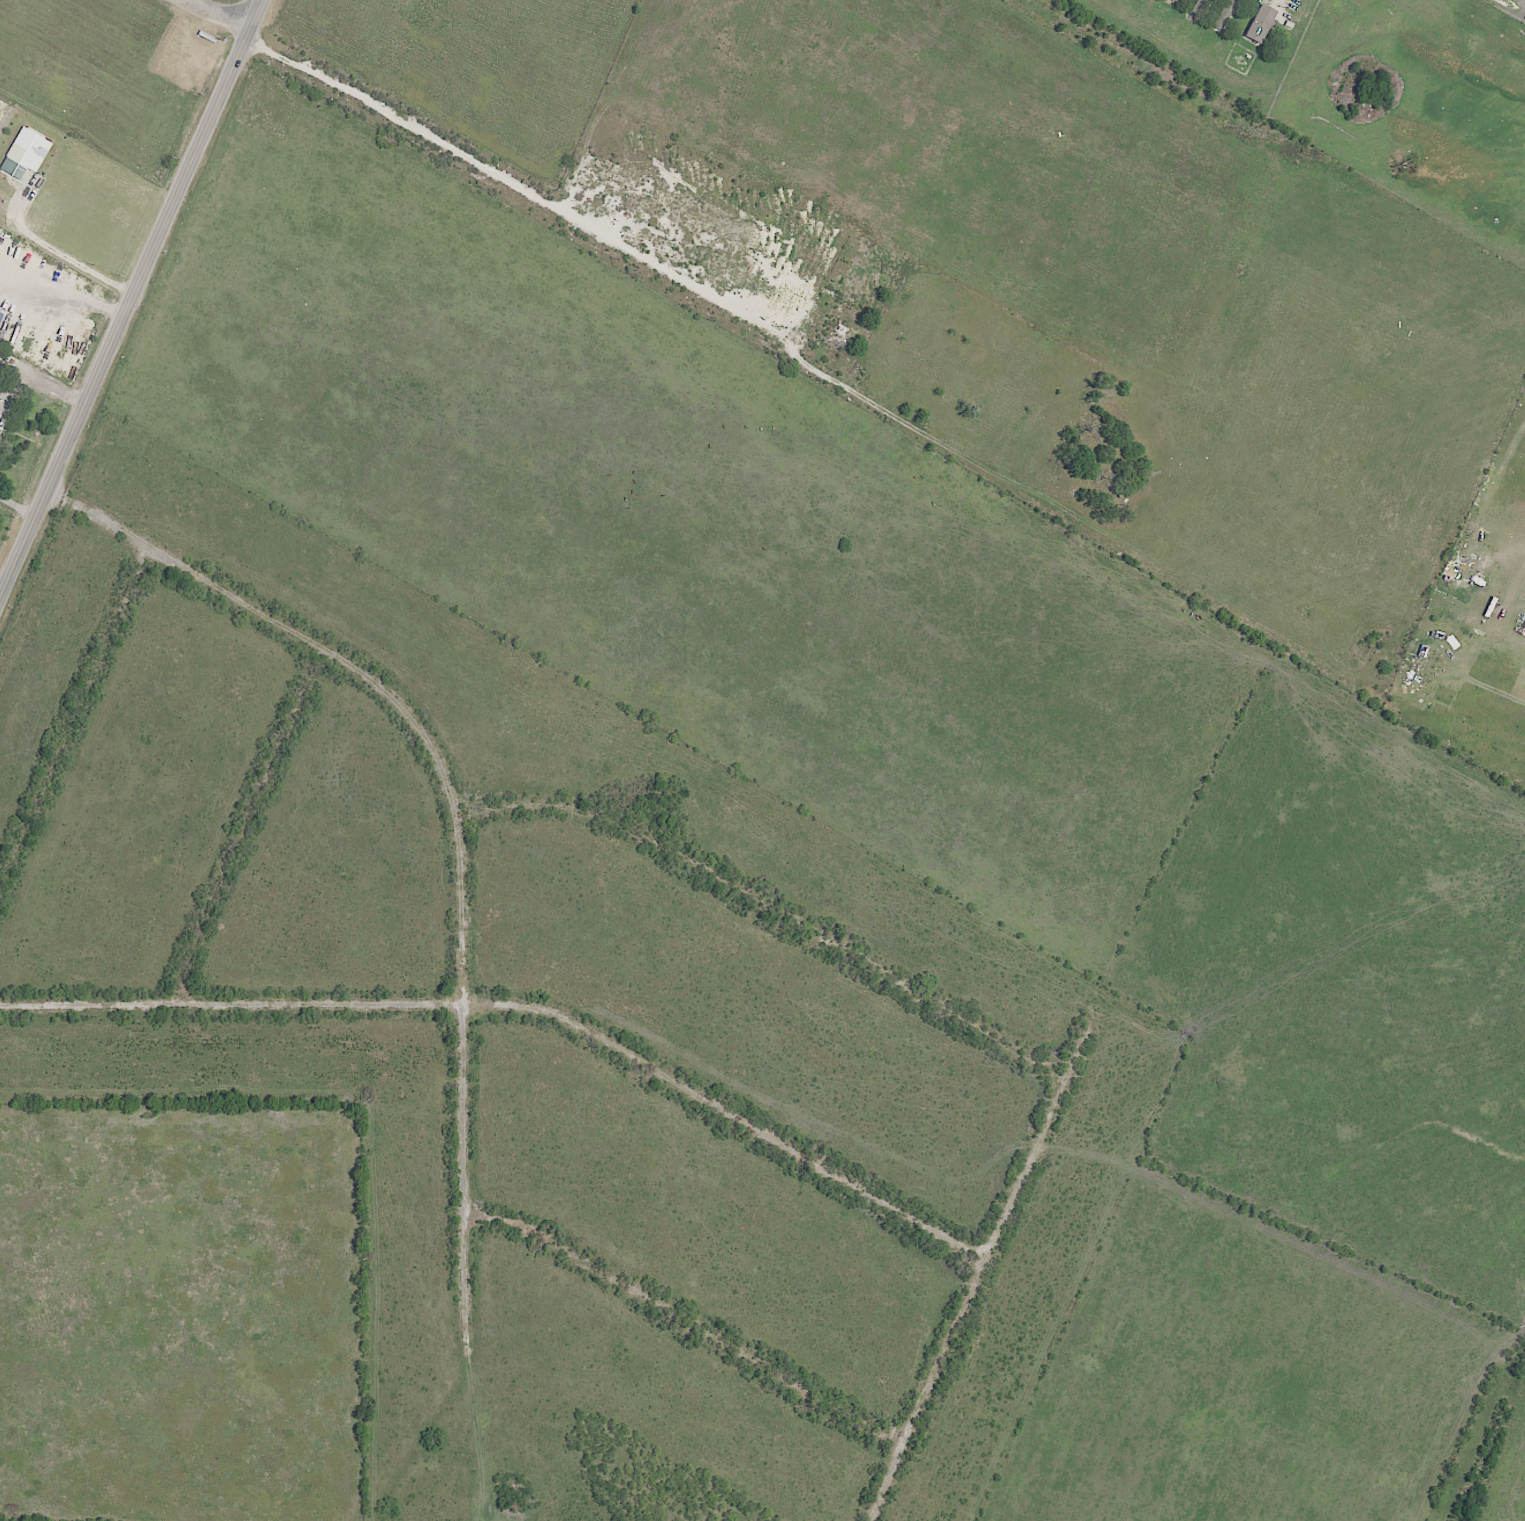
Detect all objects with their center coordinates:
road: (219, 16)
building: (1260, 24)
building: (25, 154)
road: (72, 259)
road: (132, 298)
road: (42, 378)
road: (13, 399)
building: (0, 414)
road: (17, 506)
road: (76, 713)
road: (454, 807)
road: (243, 825)
road: (772, 905)
road: (525, 1009)
road: (36, 1251)
road: (980, 1272)
road: (271, 1281)
road: (687, 1324)
road: (127, 1346)
road: (119, 1403)
road: (471, 1420)
road: (54, 1453)

